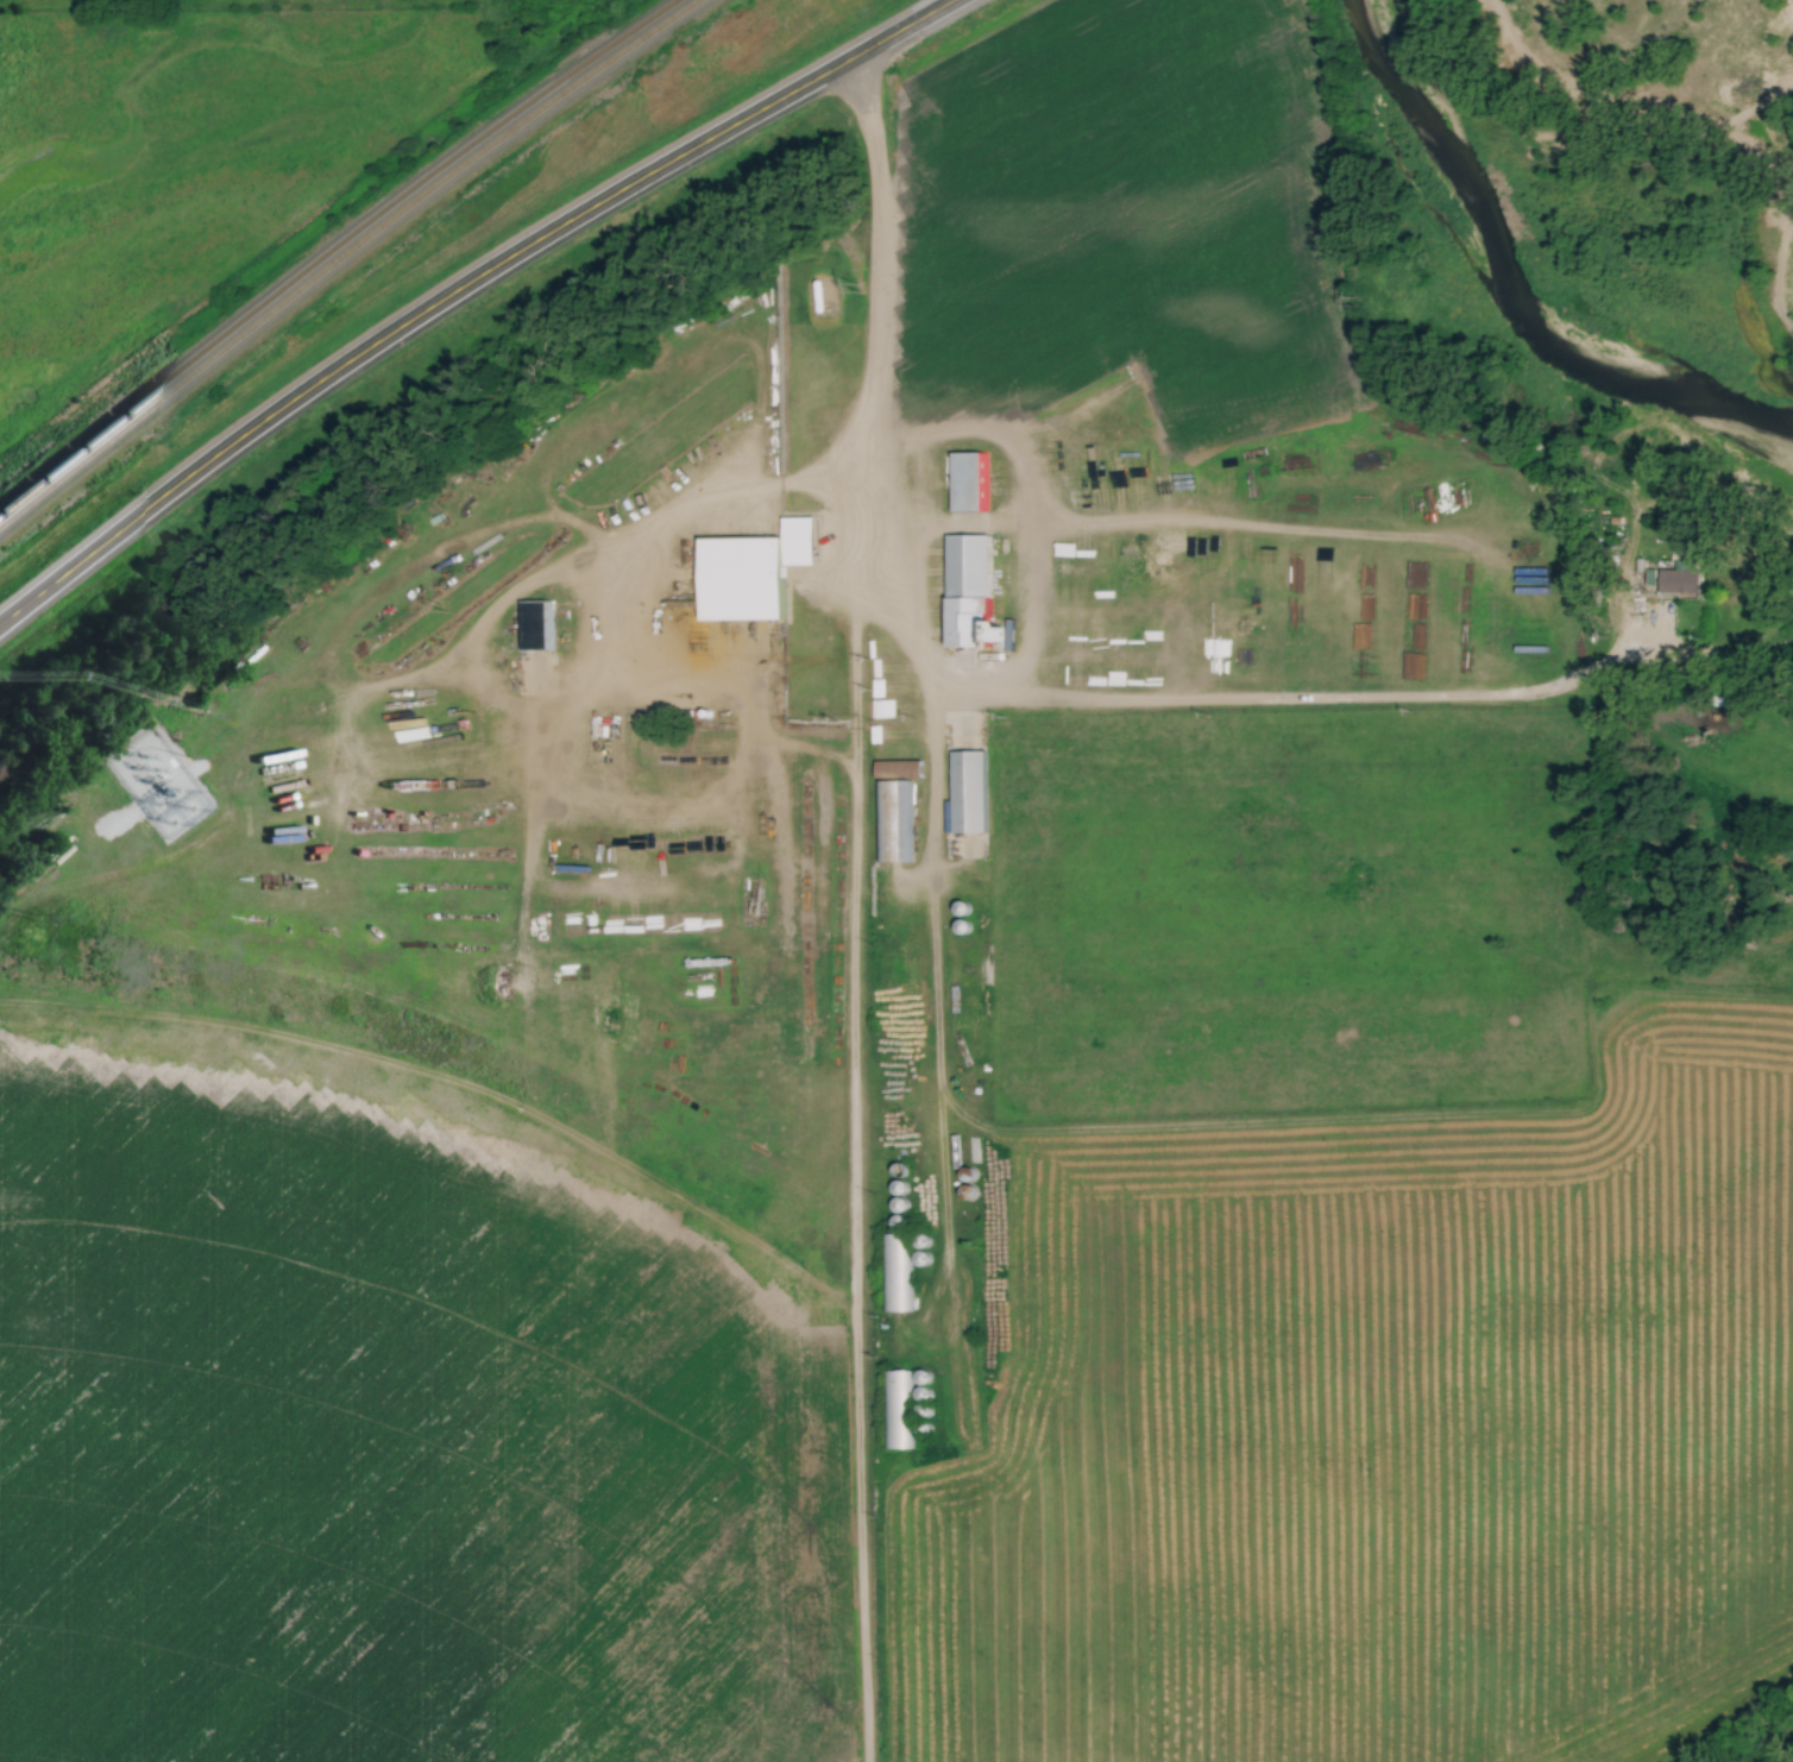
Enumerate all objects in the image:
railway: (335, 250)
railway: (345, 256)
road: (461, 288)
building: (818, 297)
building: (968, 483)
road: (1209, 524)
building: (753, 573)
building: (1680, 579)
building: (970, 593)
road: (631, 597)
building: (1233, 597)
building: (1397, 619)
building: (534, 627)
building: (1467, 633)
road: (1209, 700)
building: (967, 792)
building: (892, 810)
road: (850, 910)
building: (900, 1206)
building: (899, 1223)
building: (895, 1273)
building: (896, 1409)

